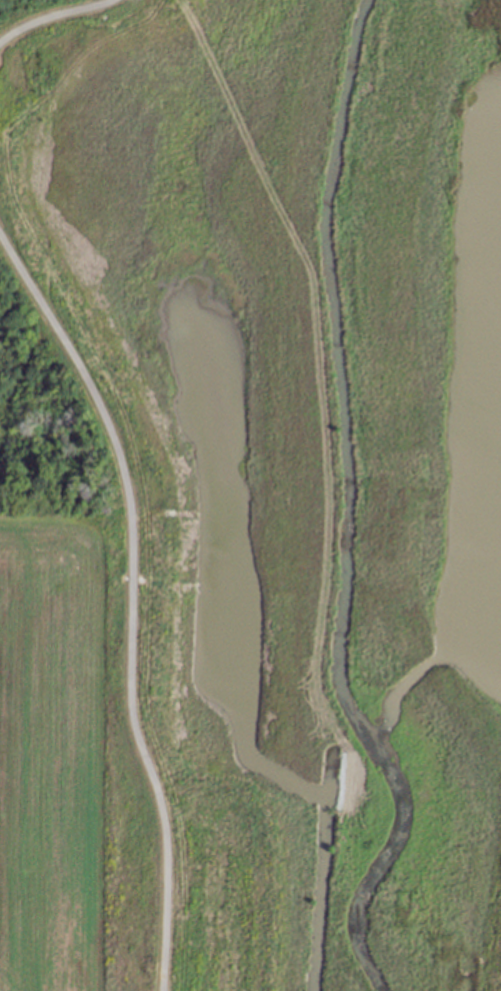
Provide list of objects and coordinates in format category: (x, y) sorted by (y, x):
road: (52, 14)
park: (269, 472)
road: (128, 601)
crop: (44, 745)

